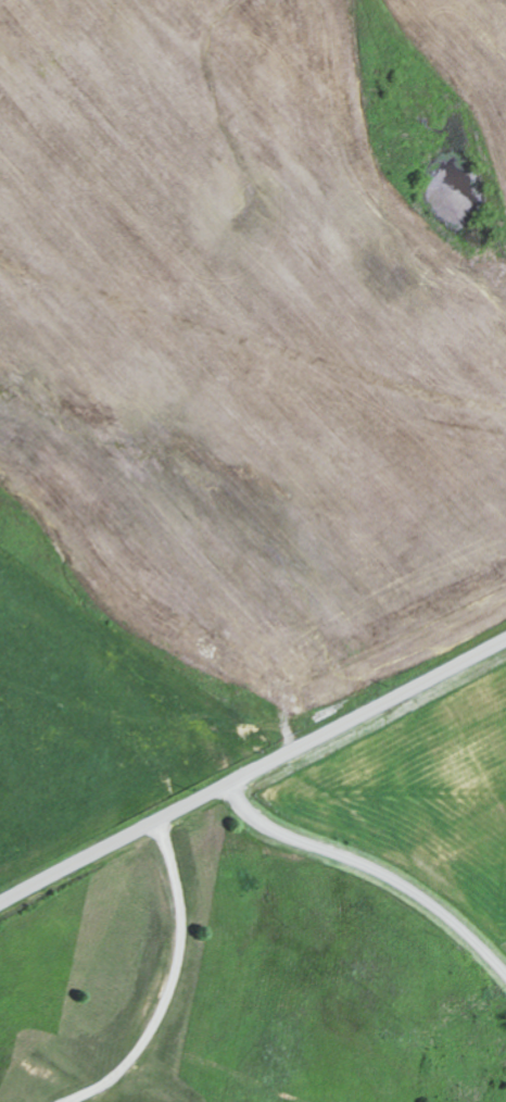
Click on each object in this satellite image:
road: (252, 773)

